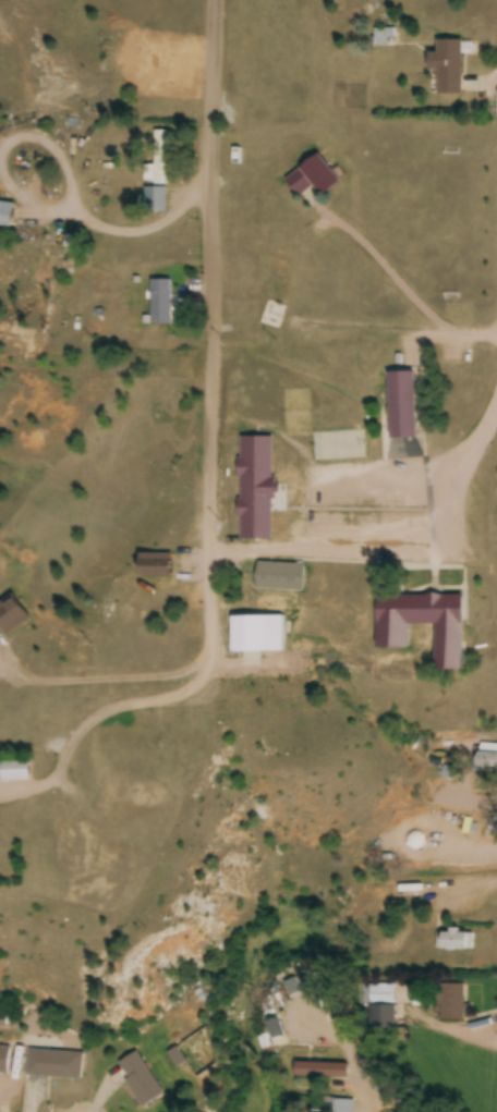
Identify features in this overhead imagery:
building: (383, 37)
building: (447, 66)
building: (158, 158)
building: (313, 178)
building: (155, 200)
building: (5, 215)
building: (272, 296)
road: (410, 297)
building: (160, 302)
road: (216, 326)
road: (374, 328)
building: (401, 405)
building: (255, 489)
road: (435, 497)
building: (279, 577)
building: (247, 635)
building: (391, 637)
road: (147, 704)
building: (486, 757)
building: (14, 772)
building: (456, 942)
building: (381, 994)
building: (451, 1003)
building: (383, 1022)
building: (274, 1030)
building: (3, 1060)
building: (53, 1065)
building: (138, 1080)
road: (362, 1100)
building: (332, 1105)

